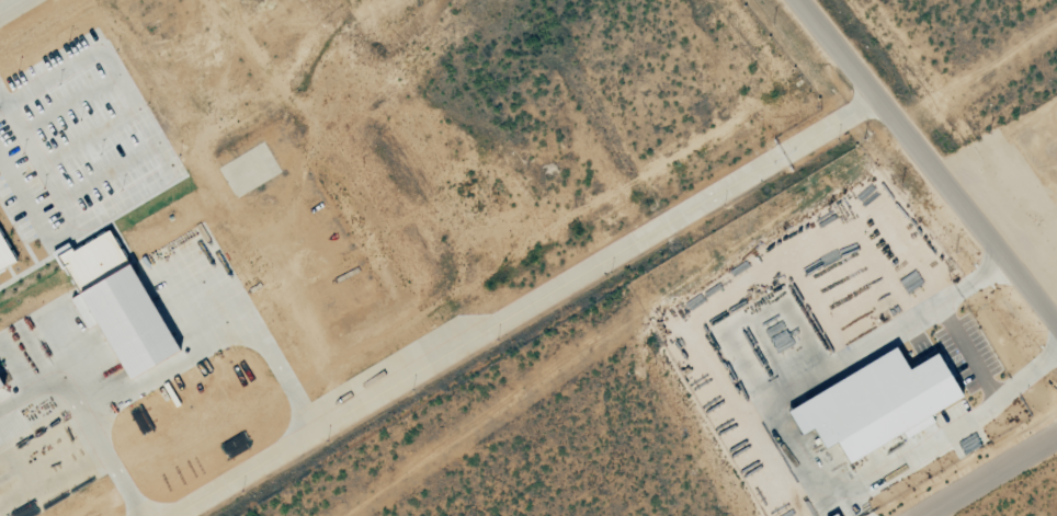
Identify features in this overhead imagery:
road: (924, 165)
building: (5, 254)
building: (120, 302)
road: (966, 353)
building: (1, 386)
building: (879, 403)
road: (987, 473)

